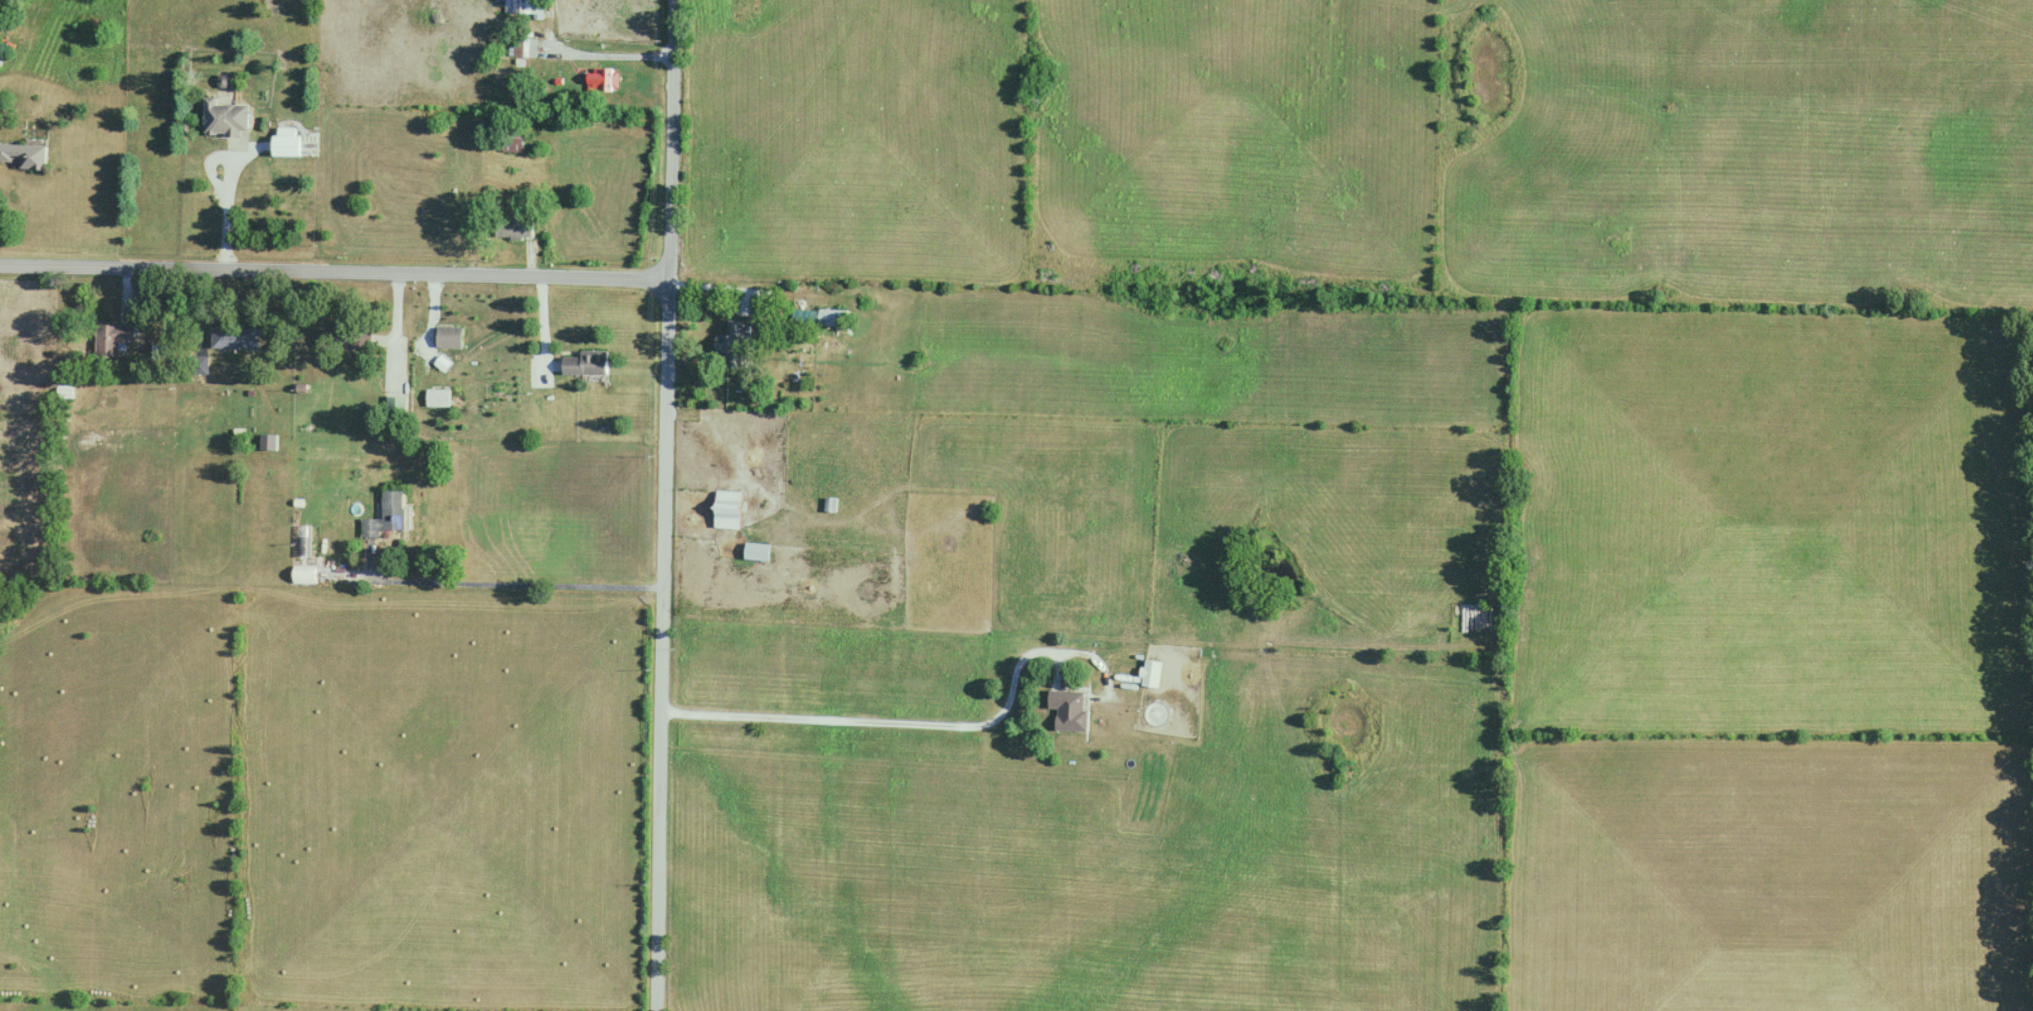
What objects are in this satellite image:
building: (522, 7)
building: (530, 48)
road: (597, 55)
building: (601, 80)
building: (225, 118)
building: (511, 136)
road: (670, 140)
building: (286, 141)
building: (24, 156)
road: (230, 181)
building: (512, 228)
road: (334, 271)
road: (730, 287)
building: (832, 318)
road: (397, 326)
road: (543, 331)
building: (448, 337)
building: (235, 338)
building: (732, 338)
building: (112, 341)
building: (196, 362)
building: (586, 364)
building: (65, 393)
building: (438, 397)
building: (395, 405)
road: (738, 468)
building: (829, 505)
building: (727, 509)
building: (386, 515)
building: (756, 552)
building: (305, 575)
road: (505, 587)
road: (667, 645)
building: (1150, 674)
building: (1070, 710)
road: (911, 726)

